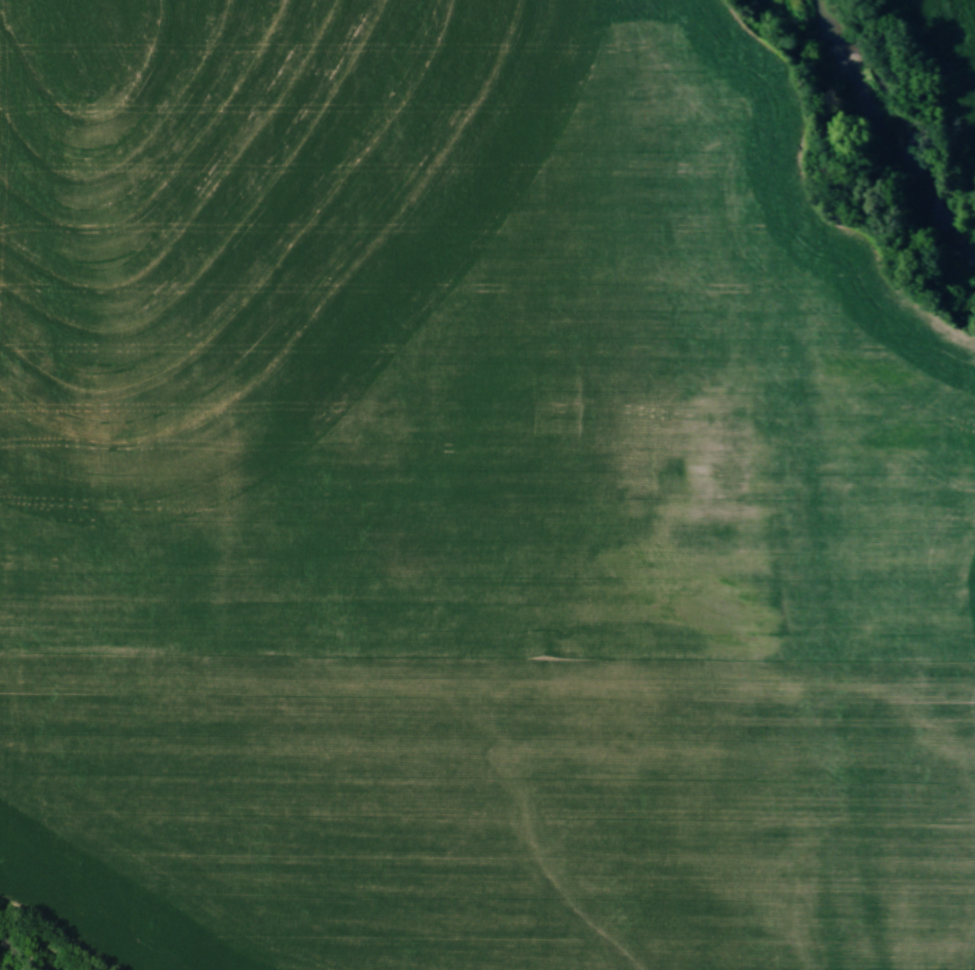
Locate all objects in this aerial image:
river: (889, 132)

